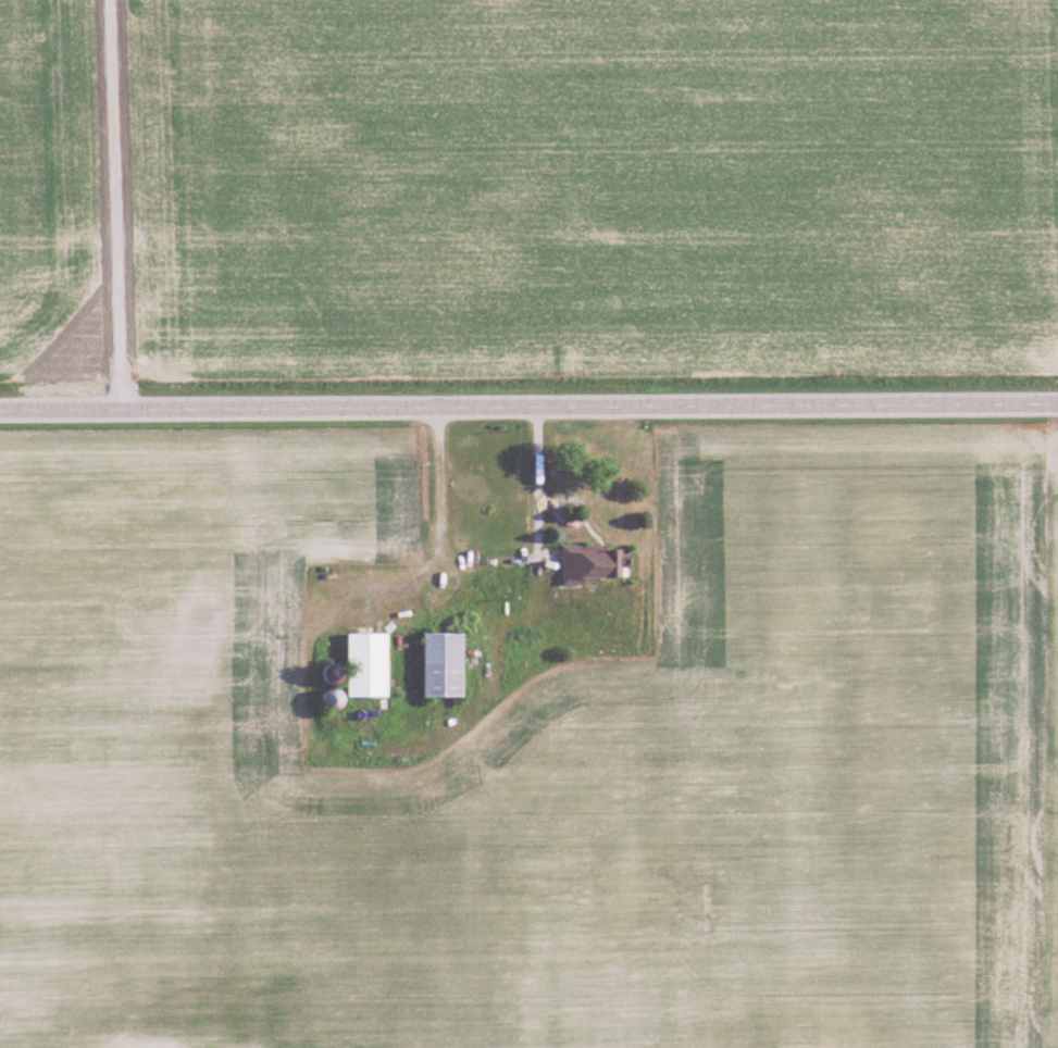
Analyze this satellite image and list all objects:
road: (528, 406)
road: (523, 464)
road: (426, 477)
building: (590, 564)
building: (444, 665)
building: (368, 666)

